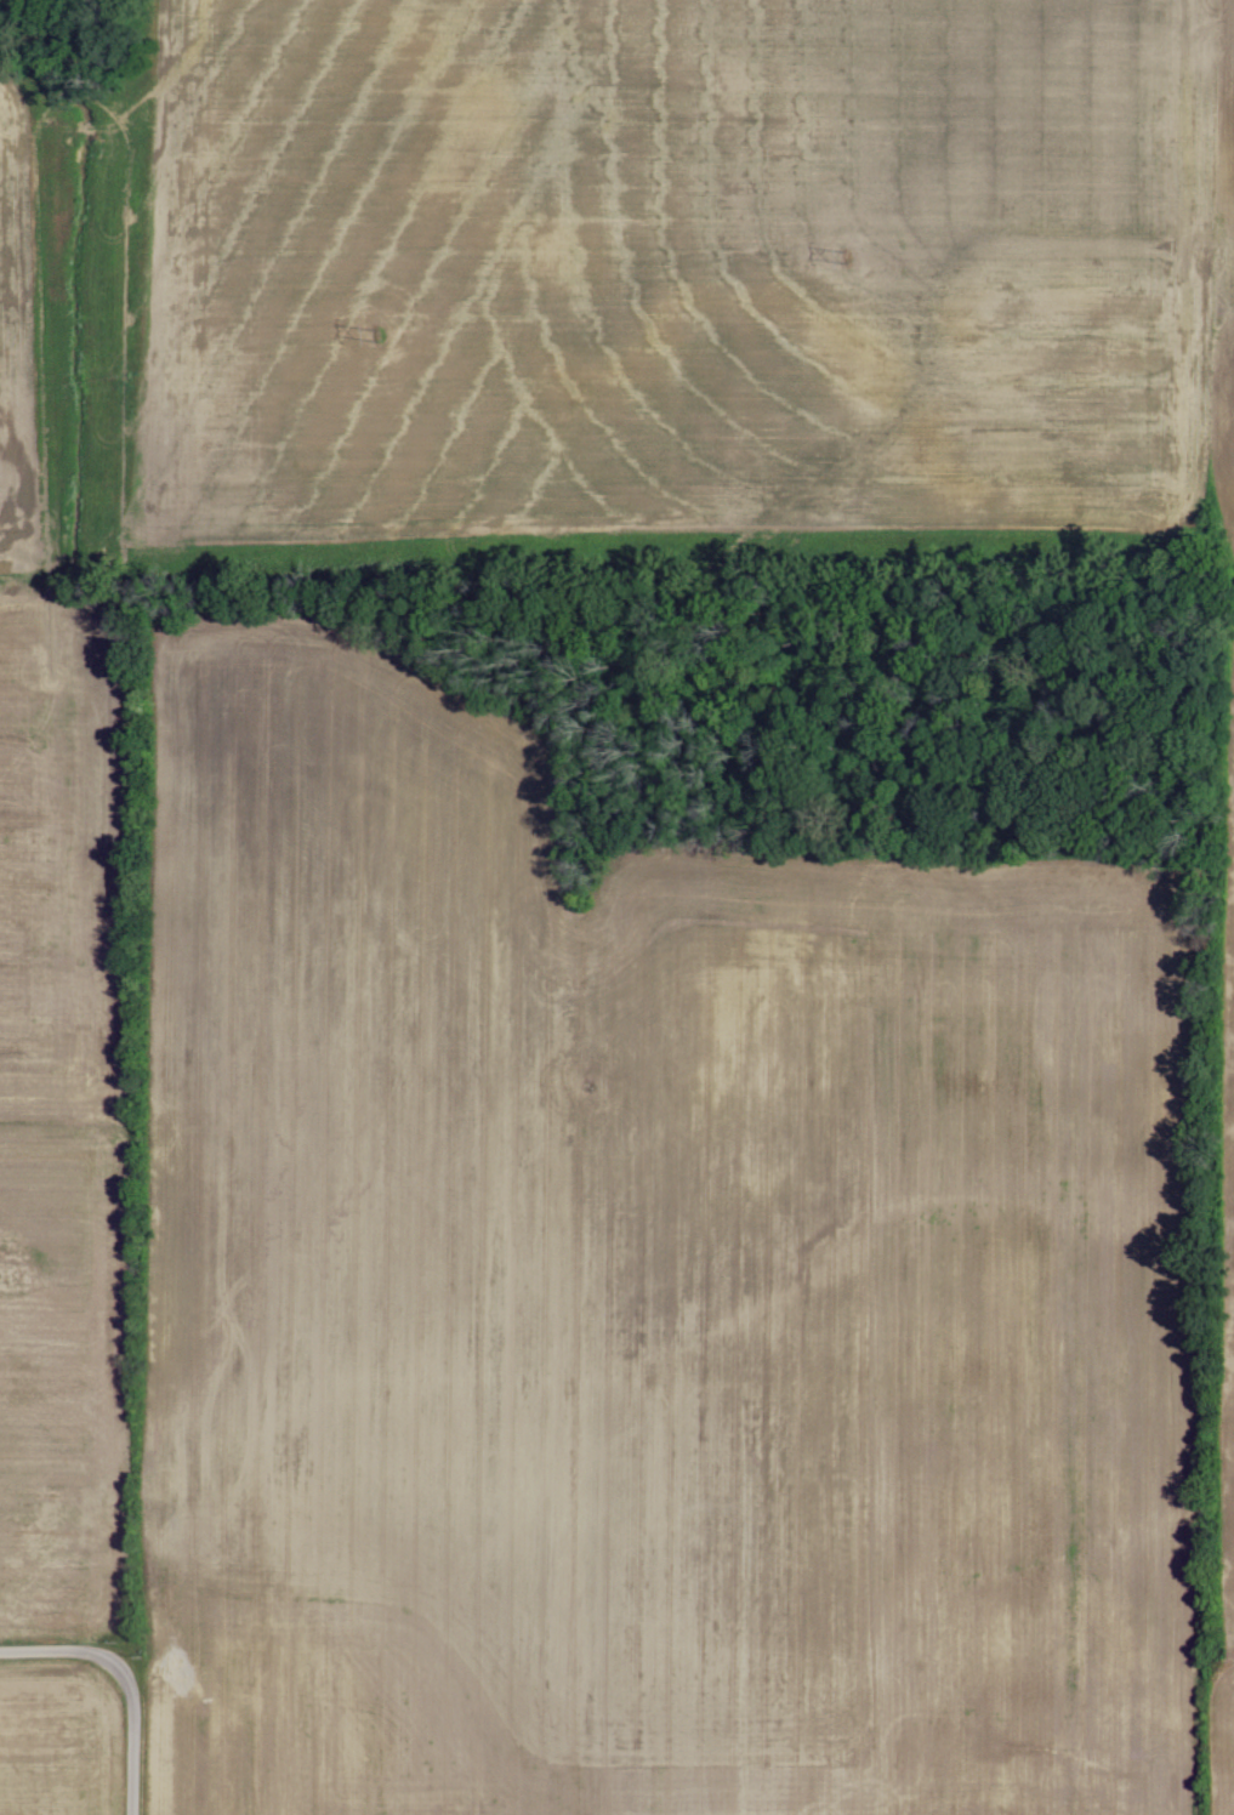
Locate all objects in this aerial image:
road: (58, 1654)
road: (131, 1736)

